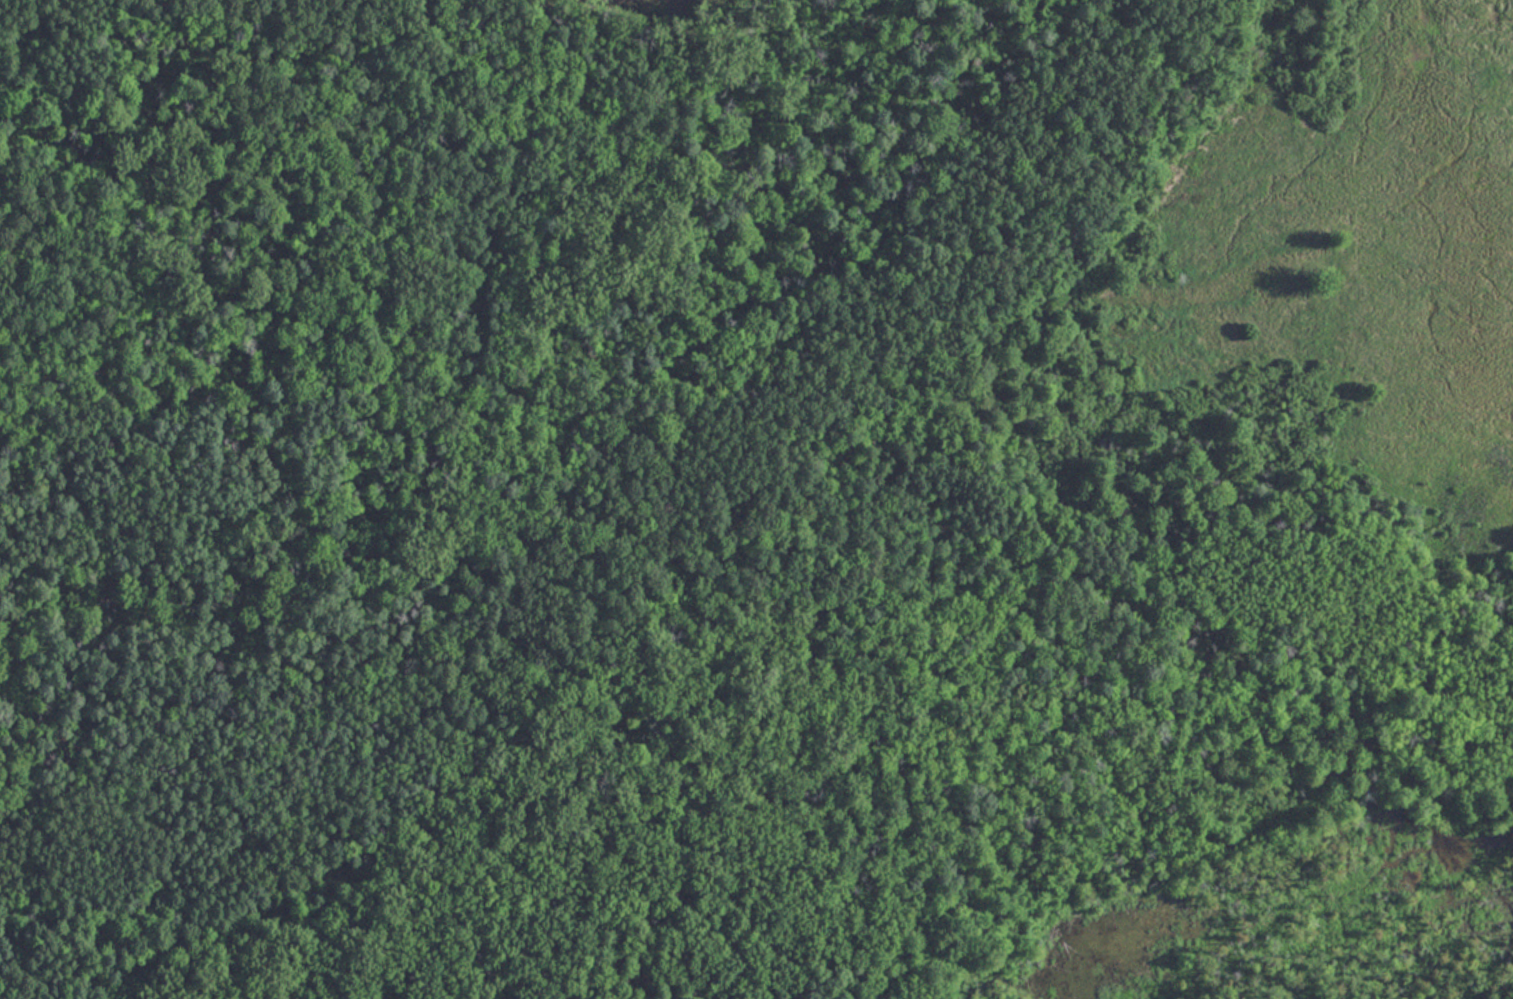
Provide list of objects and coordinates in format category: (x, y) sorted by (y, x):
park: (756, 499)

